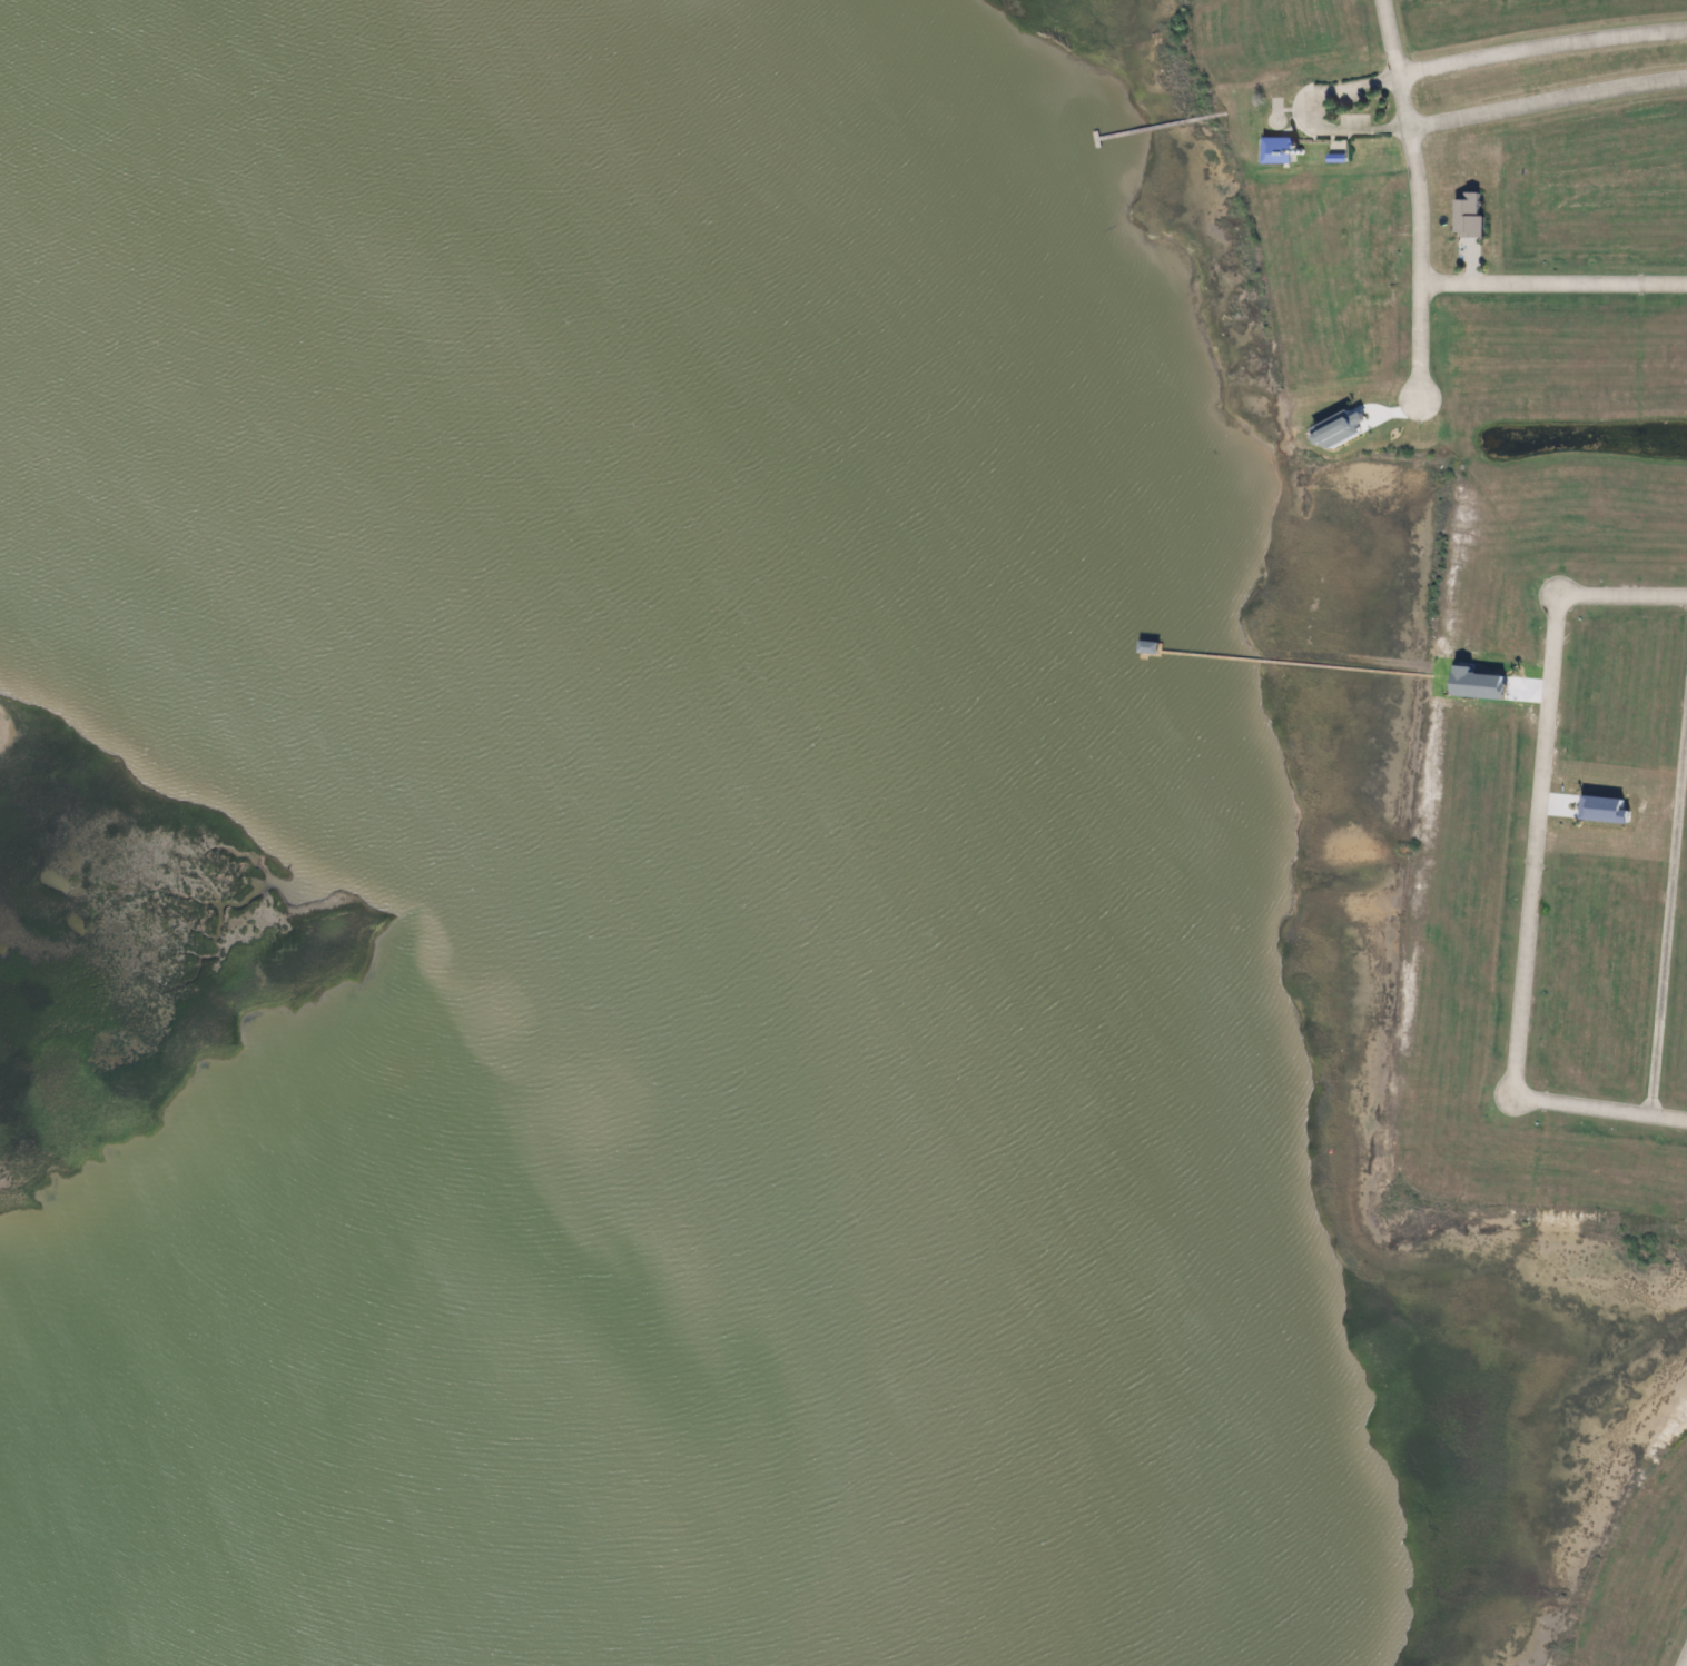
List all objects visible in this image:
road: (1540, 47)
road: (1546, 105)
building: (1275, 151)
road: (1419, 195)
building: (1467, 218)
road: (1552, 288)
building: (1334, 430)
road: (1621, 595)
building: (1474, 684)
building: (1600, 810)
road: (1533, 845)
road: (1669, 908)
road: (1598, 1107)
road: (1686, 1664)

